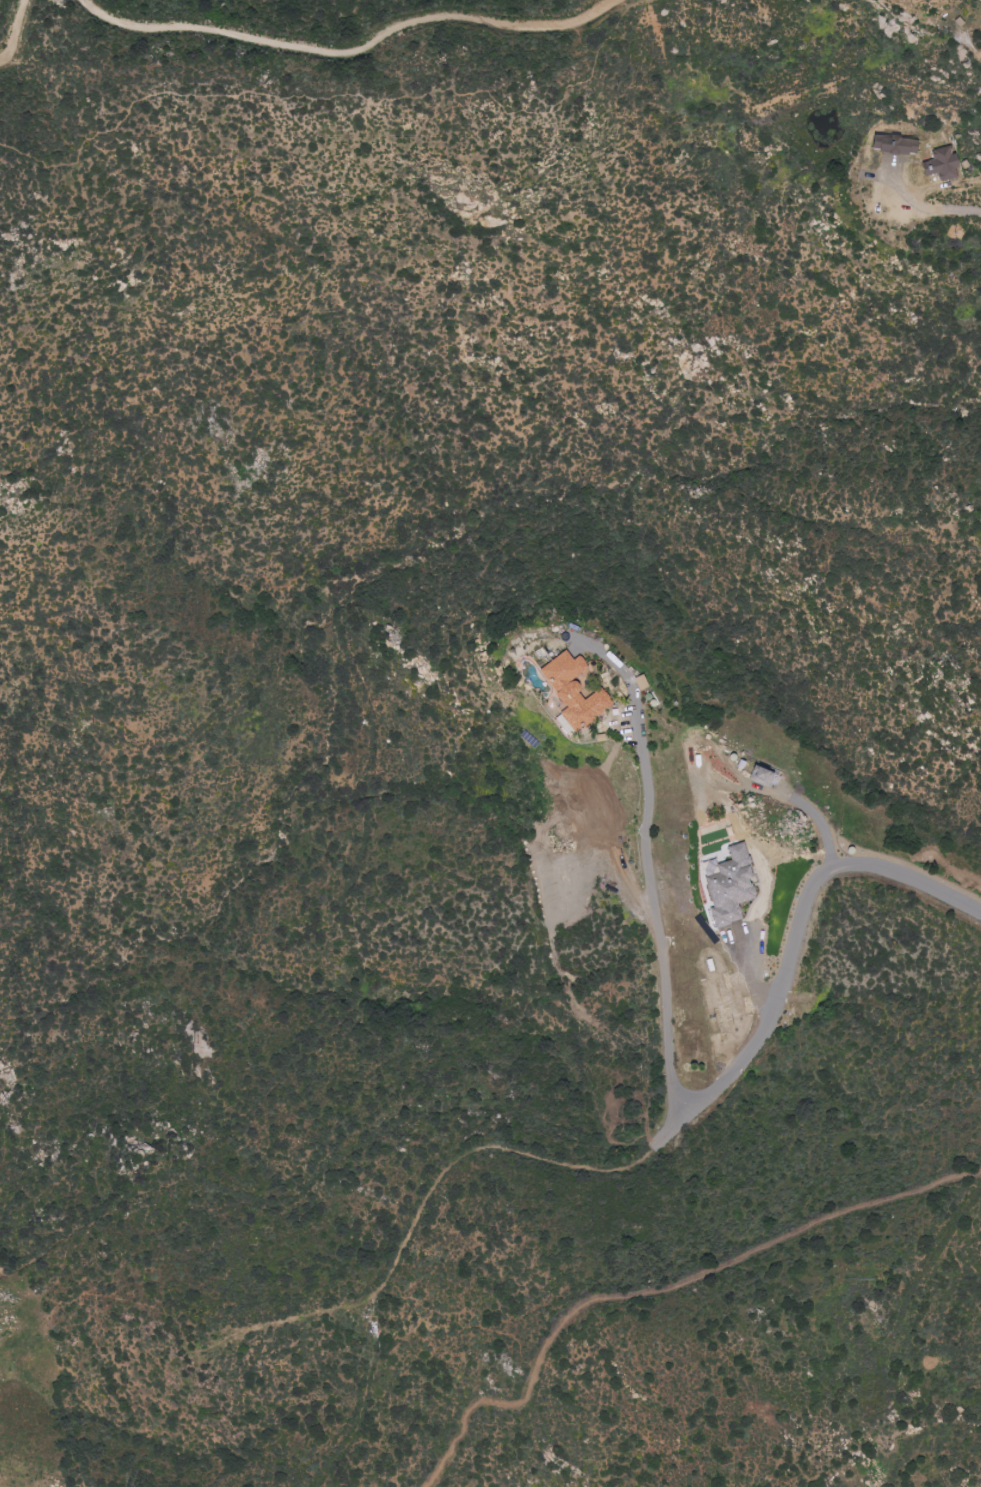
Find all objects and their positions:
building: (926, 0)
road: (14, 29)
road: (355, 53)
building: (897, 145)
building: (944, 164)
road: (934, 206)
building: (643, 681)
building: (575, 690)
building: (764, 774)
road: (736, 826)
road: (650, 870)
building: (731, 886)
road: (799, 930)
road: (434, 1216)
road: (662, 1292)

